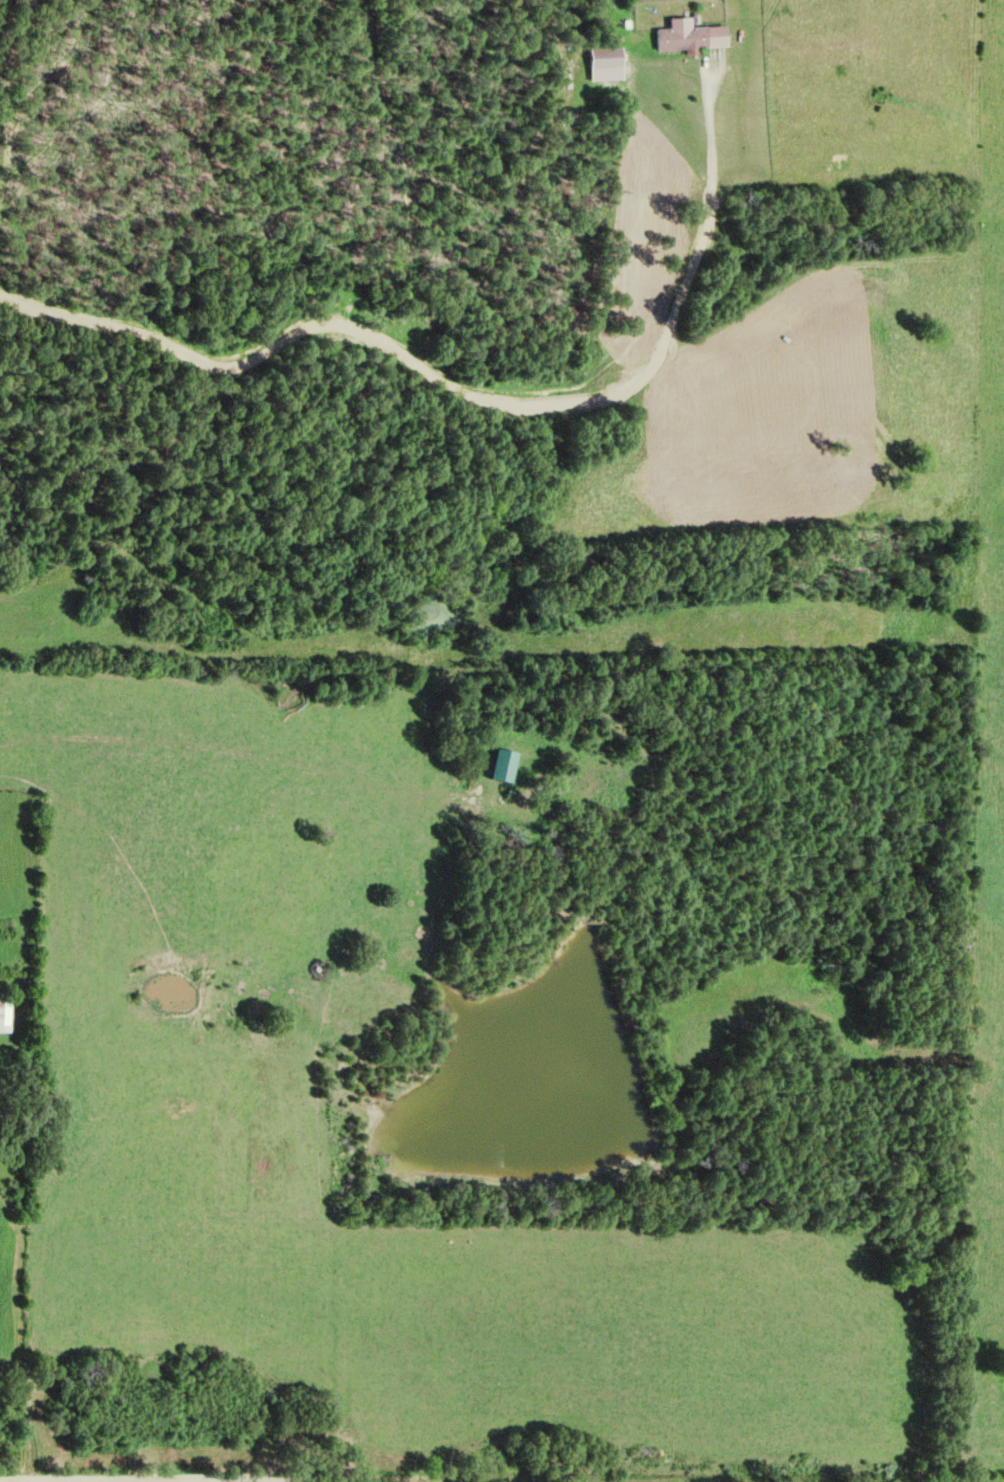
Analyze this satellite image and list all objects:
building: (698, 36)
building: (616, 63)
building: (502, 764)
building: (6, 1012)

